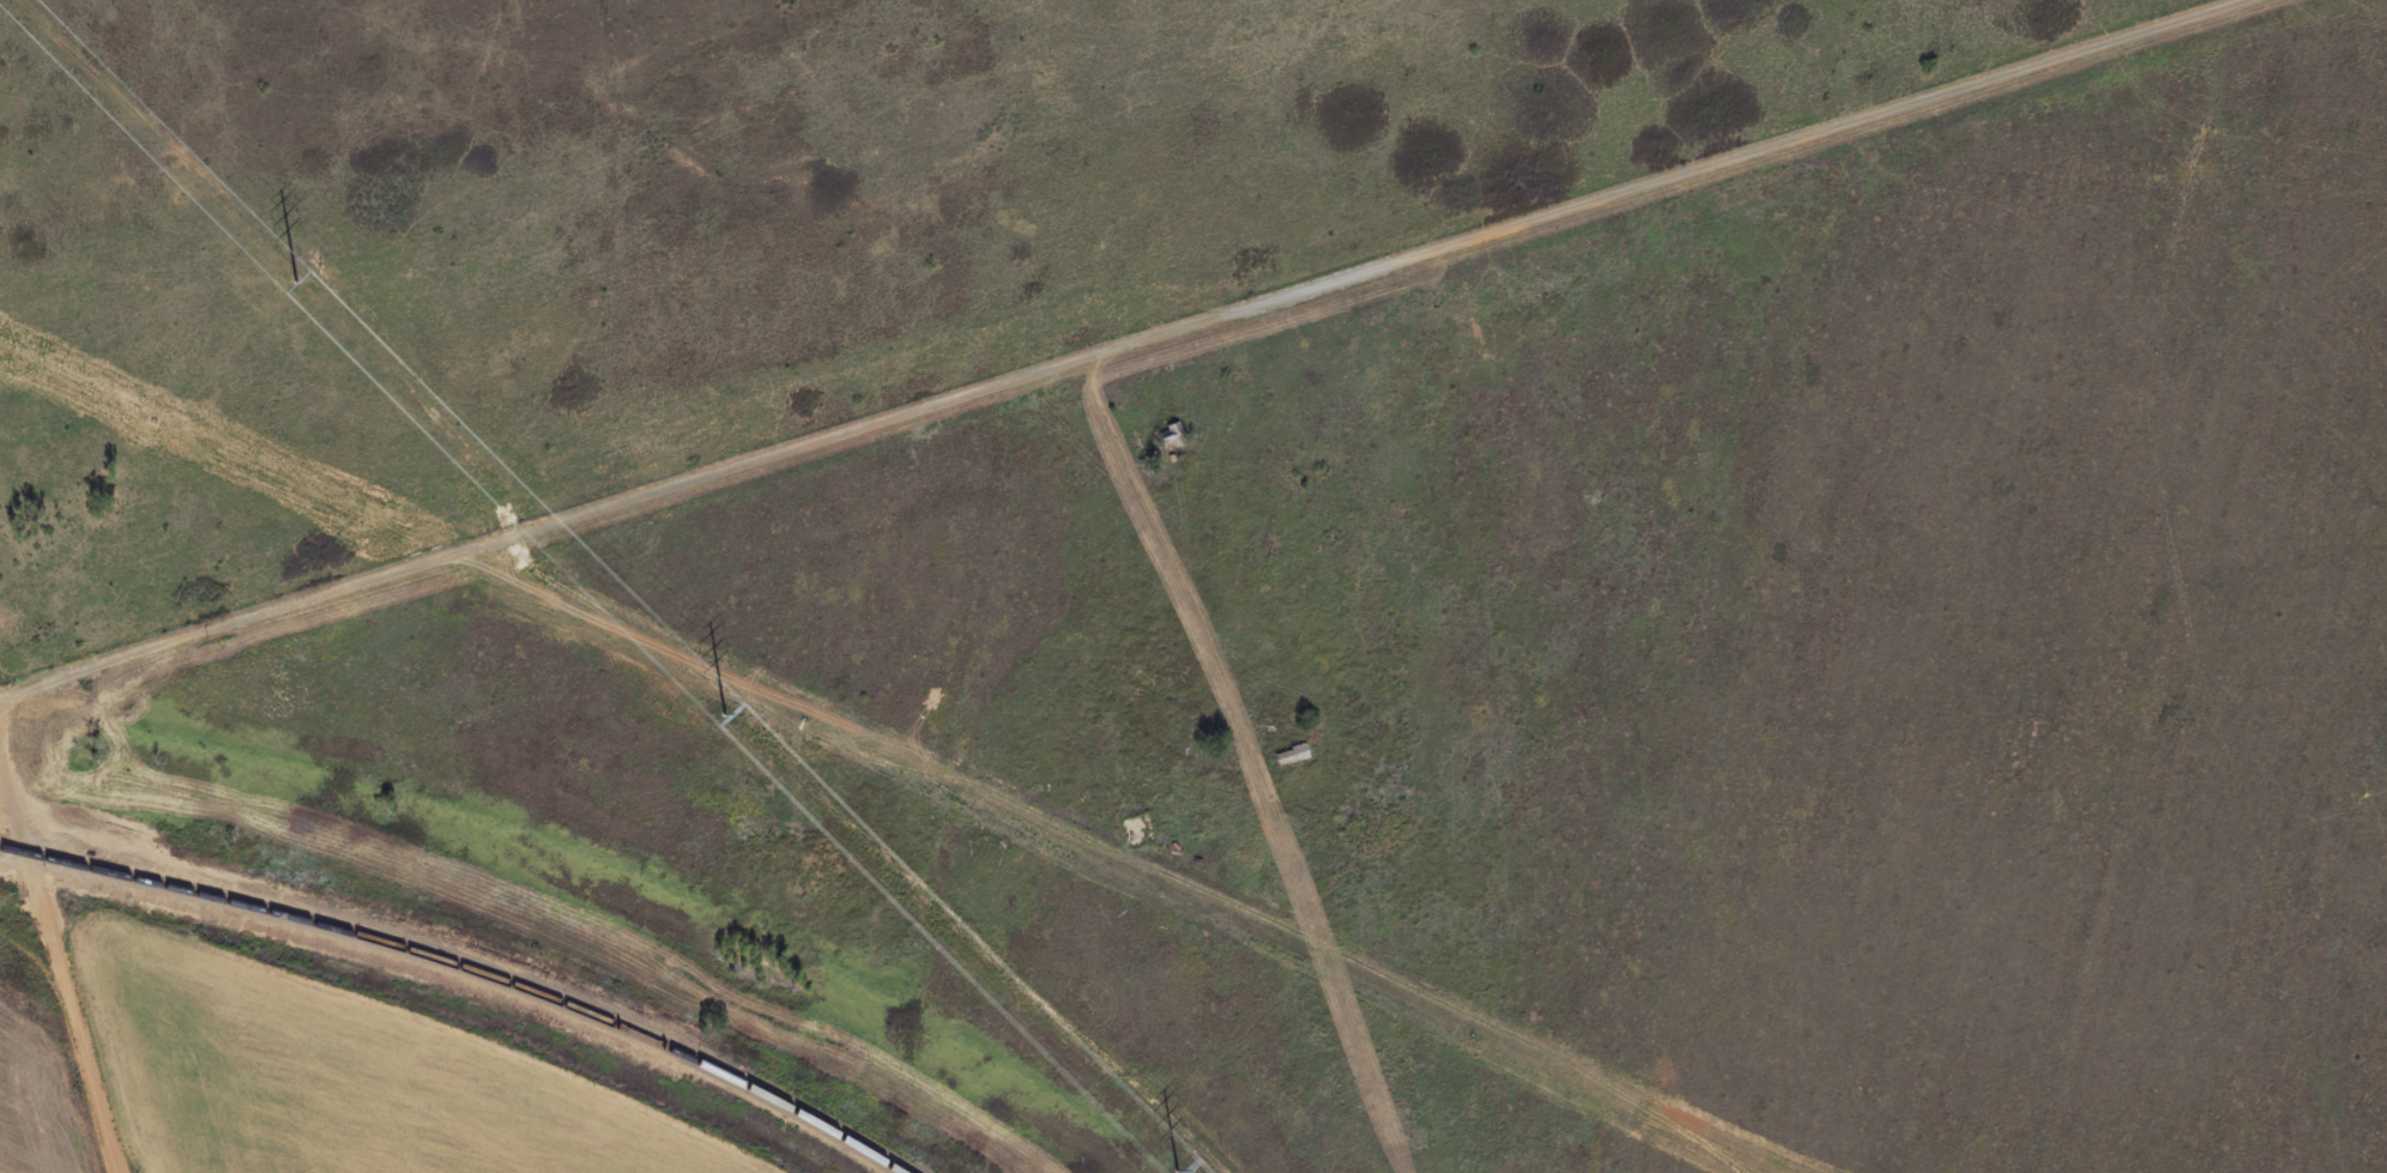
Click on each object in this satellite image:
power tower: (297, 279)
road: (1096, 356)
building: (1173, 430)
road: (1204, 593)
power tower: (726, 712)
building: (1288, 755)
road: (68, 966)
railway: (469, 966)
power tower: (1179, 1168)

